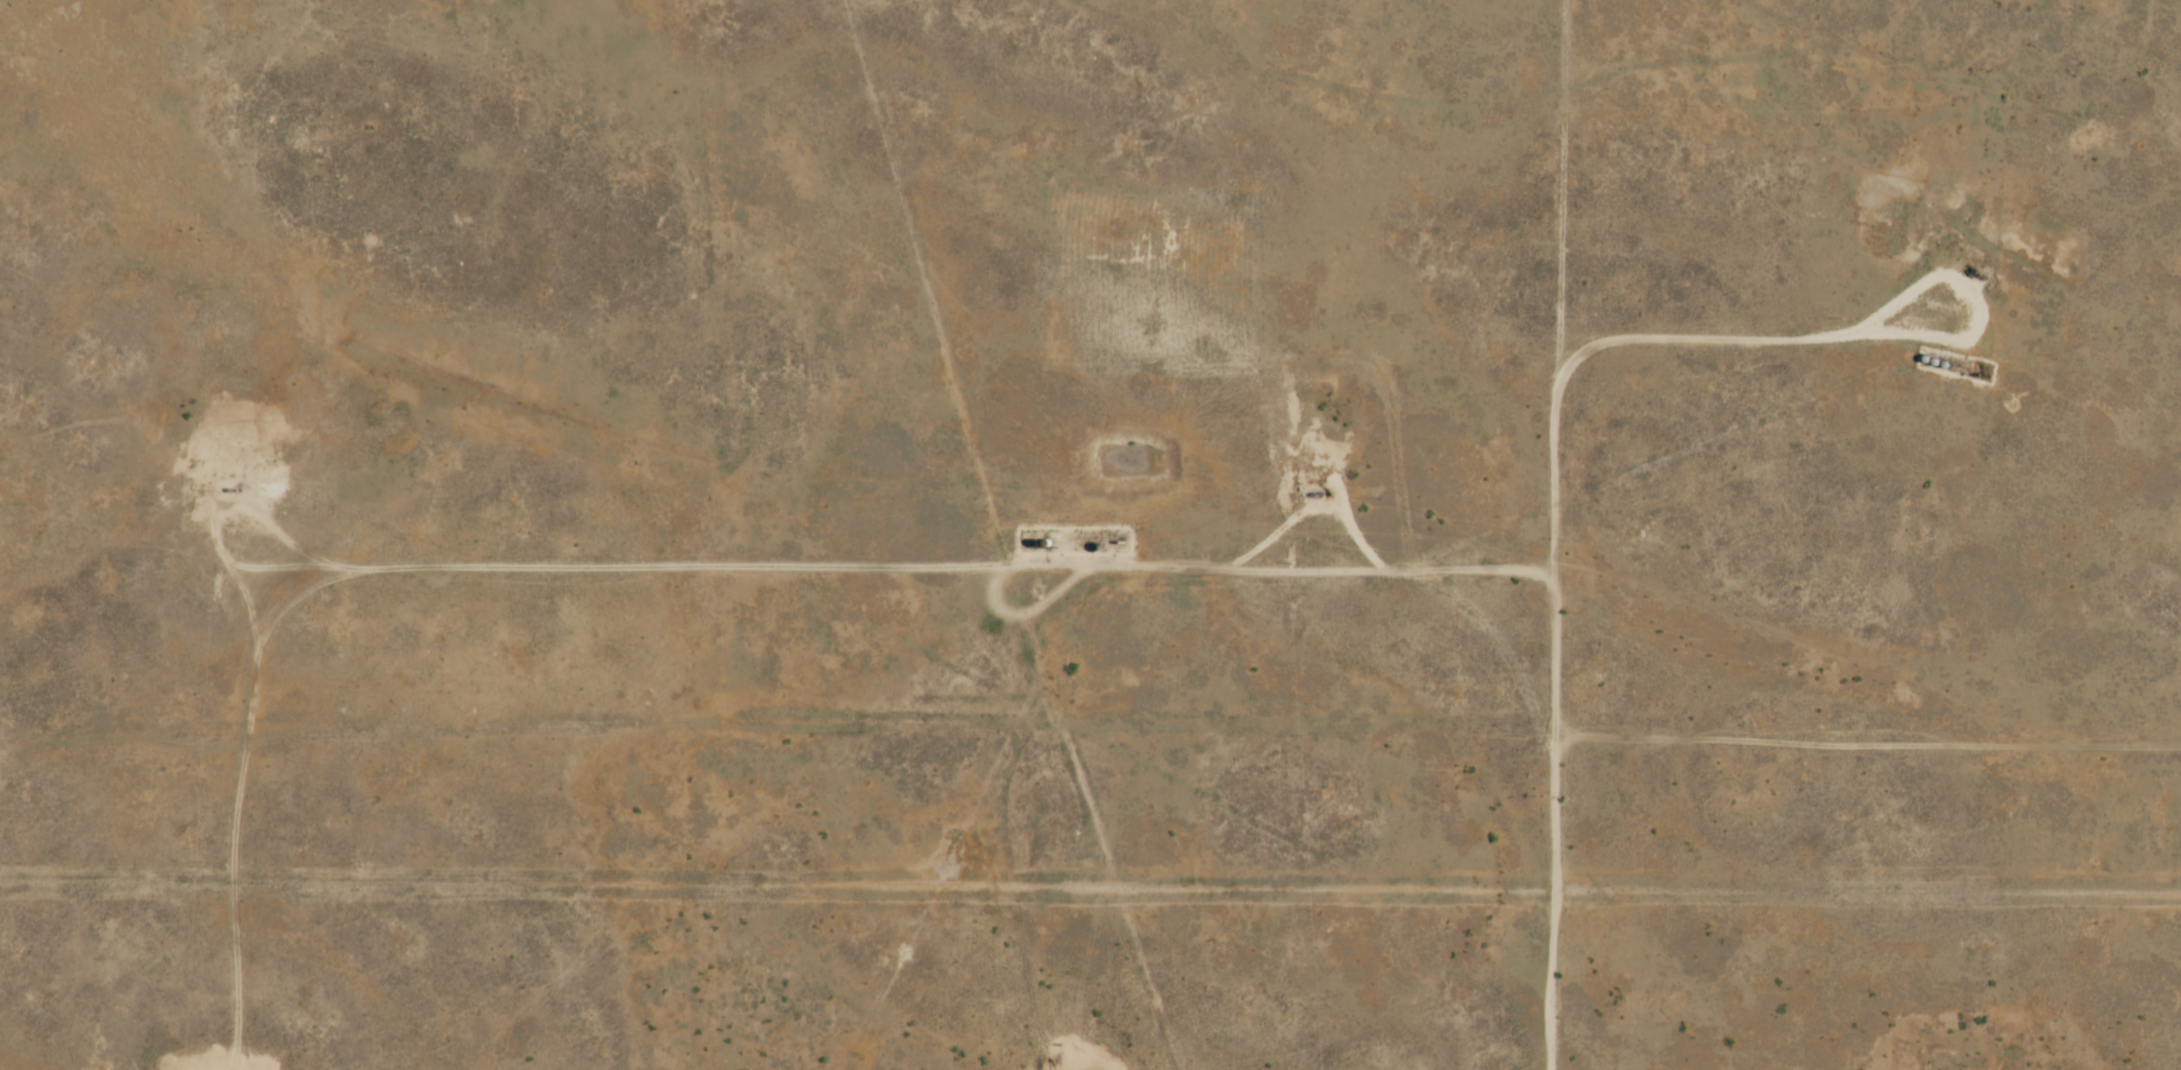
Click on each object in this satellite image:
road: (1508, 534)
road: (872, 553)
road: (752, 712)

